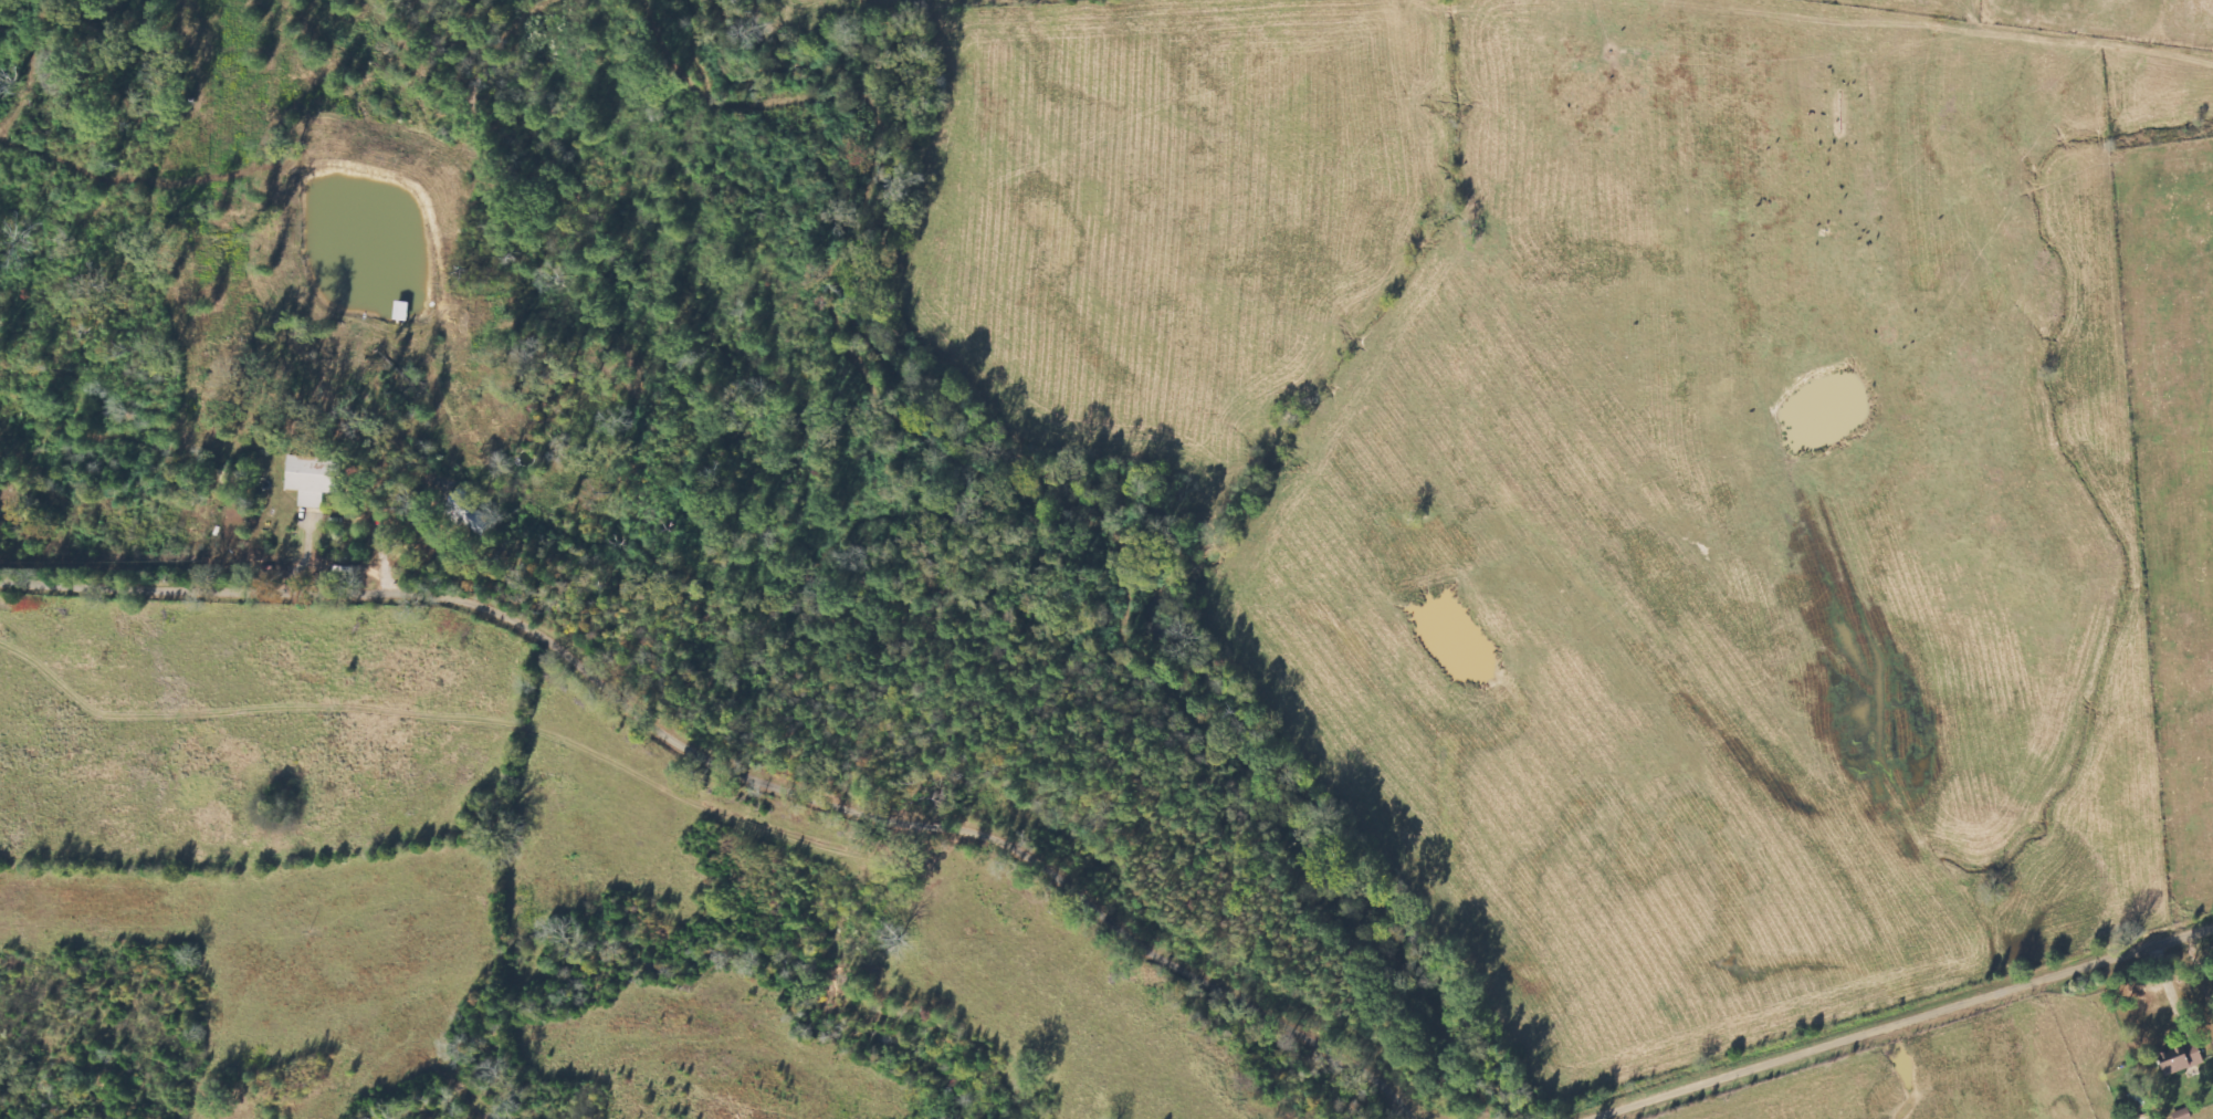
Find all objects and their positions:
building: (315, 480)
road: (734, 764)
road: (1901, 1022)
building: (2188, 1059)

